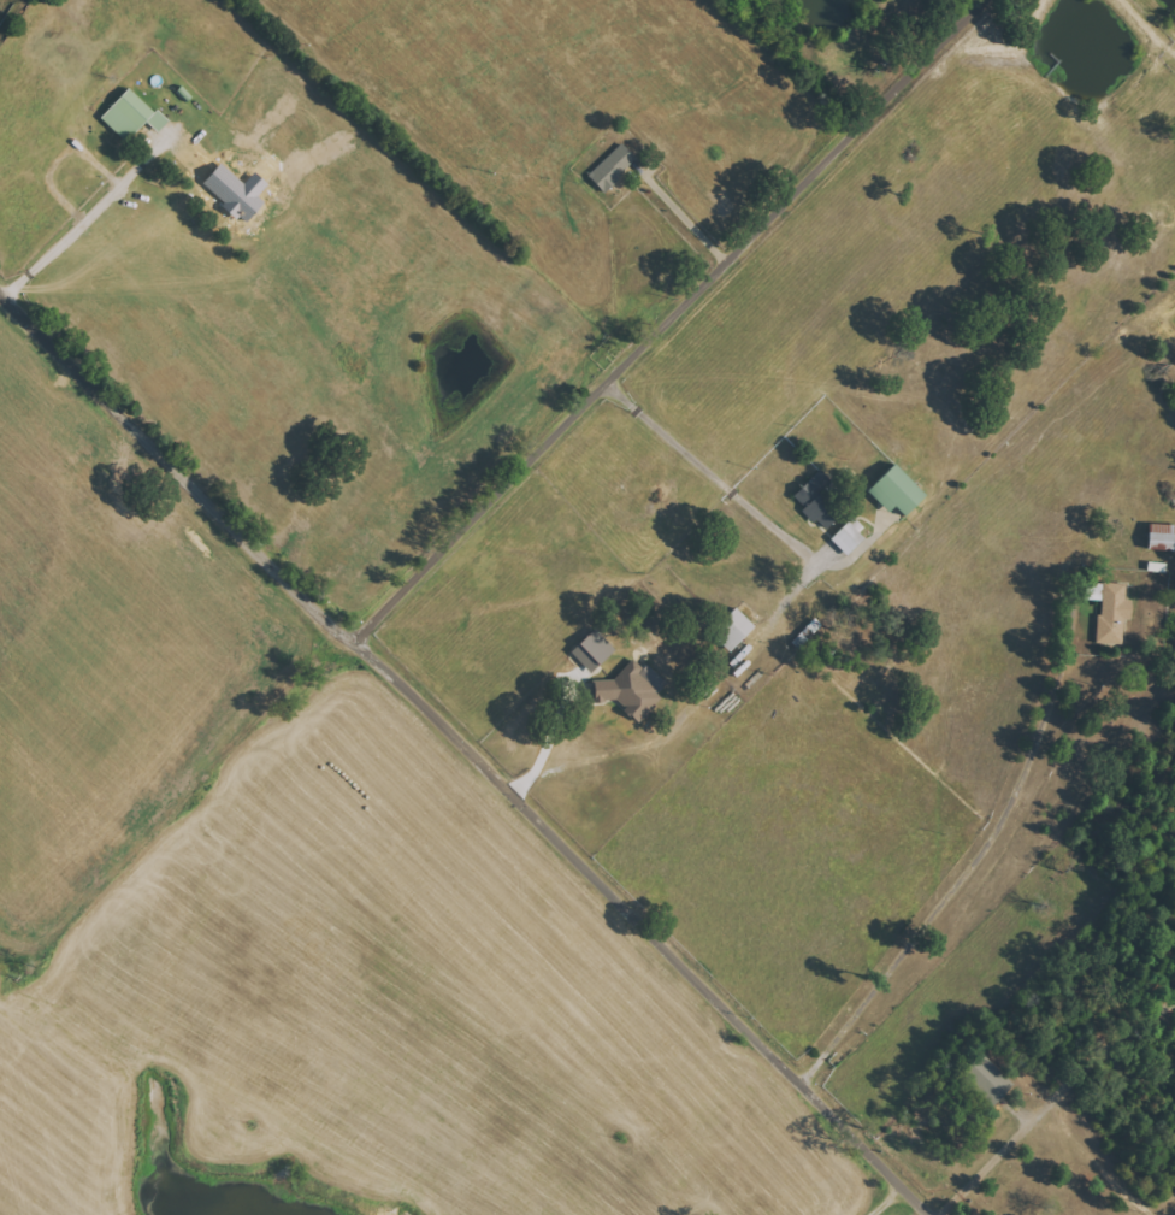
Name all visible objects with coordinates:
building: (131, 116)
building: (613, 167)
road: (82, 211)
road: (687, 220)
road: (668, 318)
building: (897, 491)
building: (815, 501)
building: (1162, 537)
road: (774, 603)
building: (1111, 611)
building: (733, 630)
building: (594, 651)
building: (634, 691)
road: (471, 749)
road: (958, 874)
building: (990, 1078)
road: (1057, 1099)

